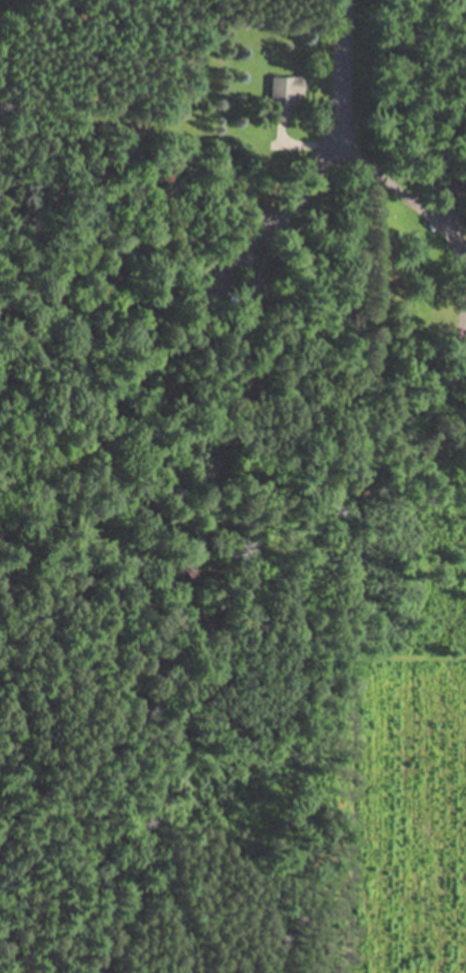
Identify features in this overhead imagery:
building: (288, 91)
road: (252, 249)
park: (233, 486)
road: (193, 574)

